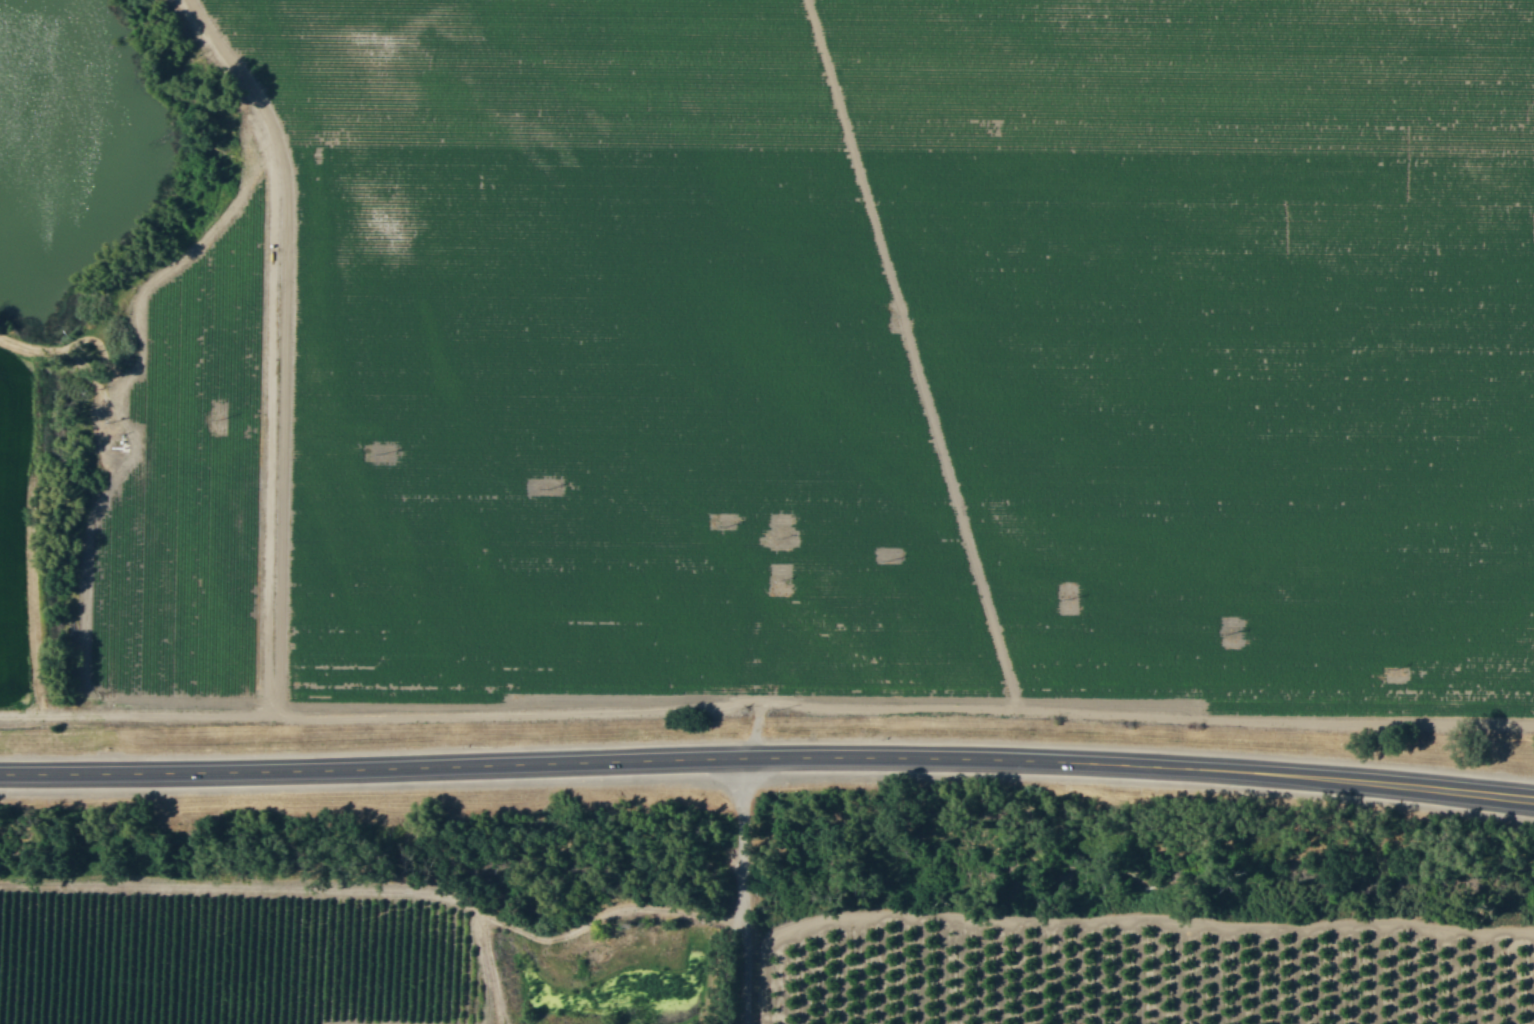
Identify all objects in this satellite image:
road: (767, 757)
railway: (767, 849)
road: (739, 890)
road: (1109, 918)

